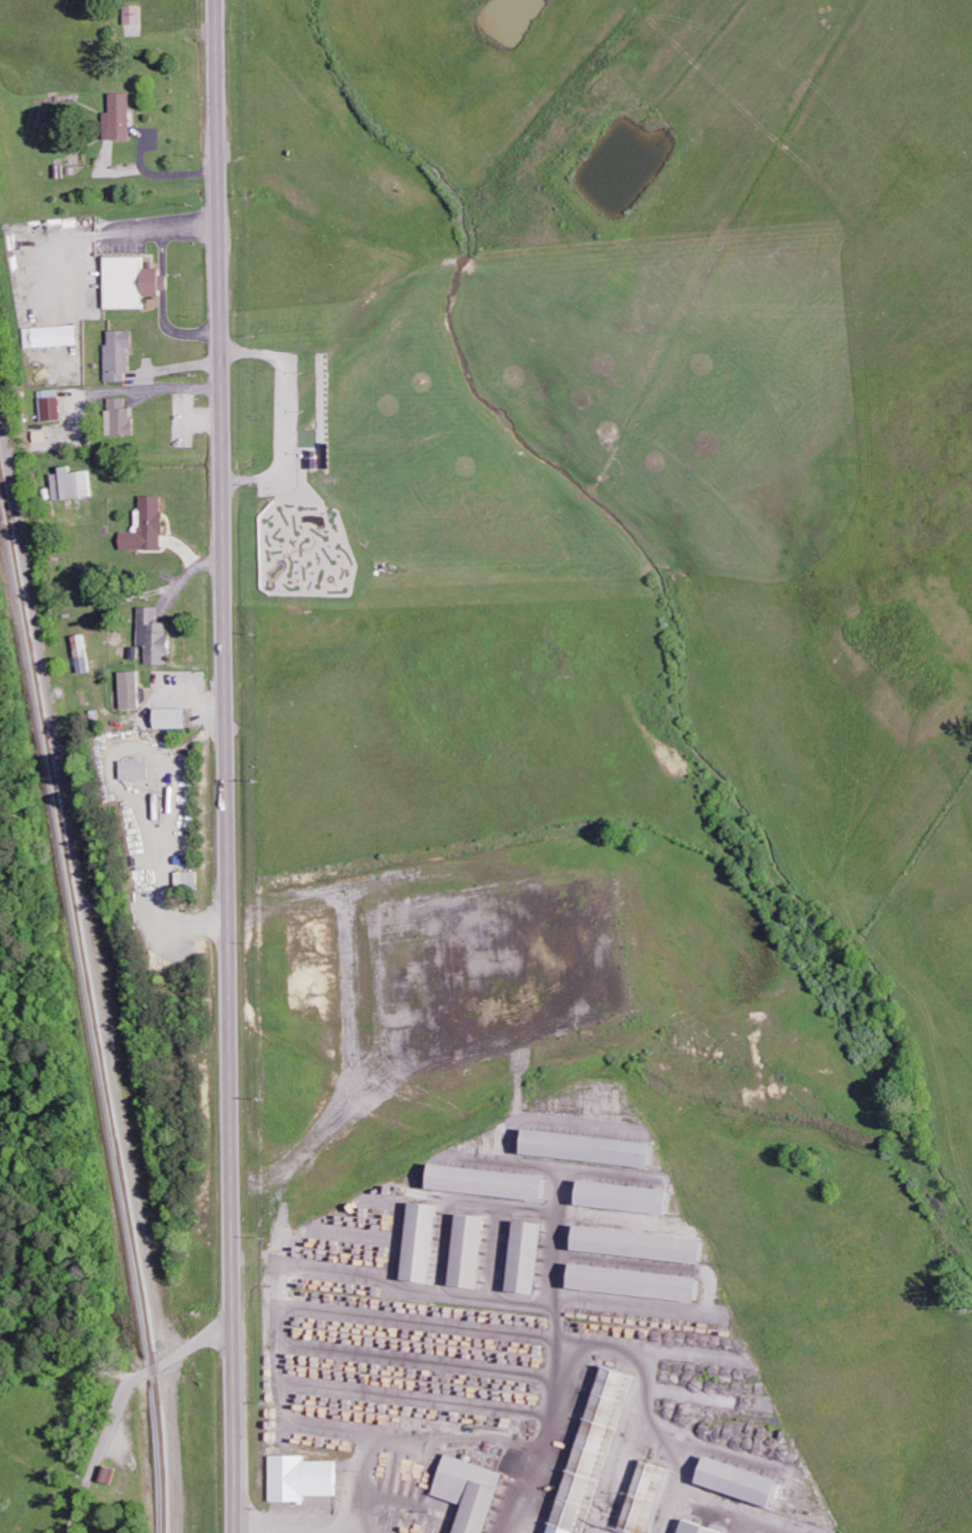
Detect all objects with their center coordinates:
building: (135, 15)
building: (120, 118)
building: (133, 282)
building: (53, 336)
building: (119, 355)
building: (52, 406)
building: (120, 418)
building: (73, 484)
building: (156, 637)
building: (83, 654)
building: (132, 690)
building: (175, 718)
road: (226, 766)
building: (136, 770)
building: (189, 879)
railway: (91, 999)
building: (595, 1150)
building: (494, 1184)
building: (630, 1198)
building: (426, 1244)
building: (645, 1246)
building: (531, 1259)
building: (641, 1284)
road: (123, 1404)
building: (597, 1447)
building: (303, 1479)
building: (744, 1483)
building: (473, 1492)
building: (647, 1498)
building: (698, 1528)

